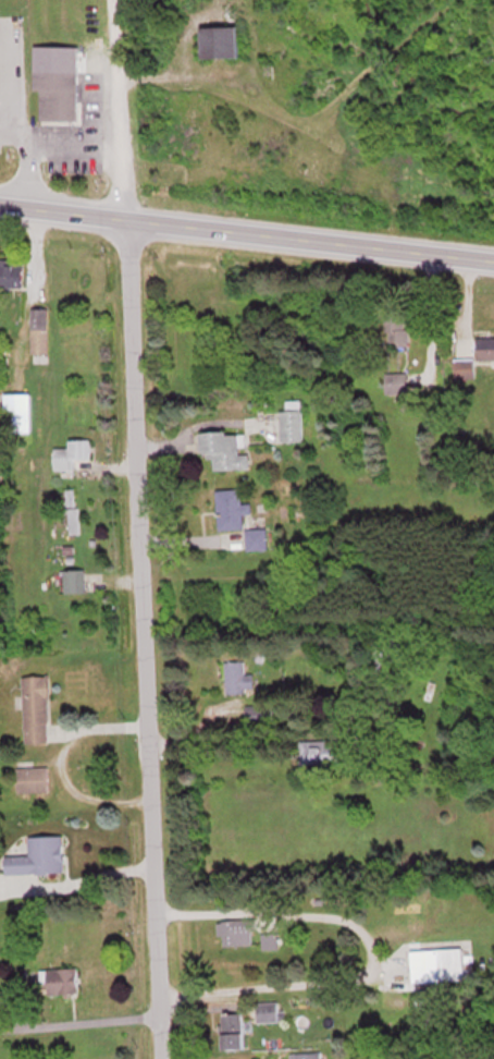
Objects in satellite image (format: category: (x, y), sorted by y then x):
building: (220, 40)
building: (57, 95)
road: (247, 229)
building: (12, 272)
building: (39, 332)
building: (485, 348)
building: (396, 382)
building: (17, 412)
building: (291, 425)
building: (226, 449)
building: (71, 452)
building: (232, 509)
building: (72, 511)
road: (139, 528)
building: (74, 581)
building: (383, 655)
building: (238, 678)
building: (36, 709)
building: (320, 752)
building: (32, 779)
building: (37, 856)
building: (237, 930)
building: (269, 939)
building: (437, 963)
building: (61, 978)
building: (4, 999)
building: (267, 1010)
building: (232, 1030)
building: (304, 1055)

